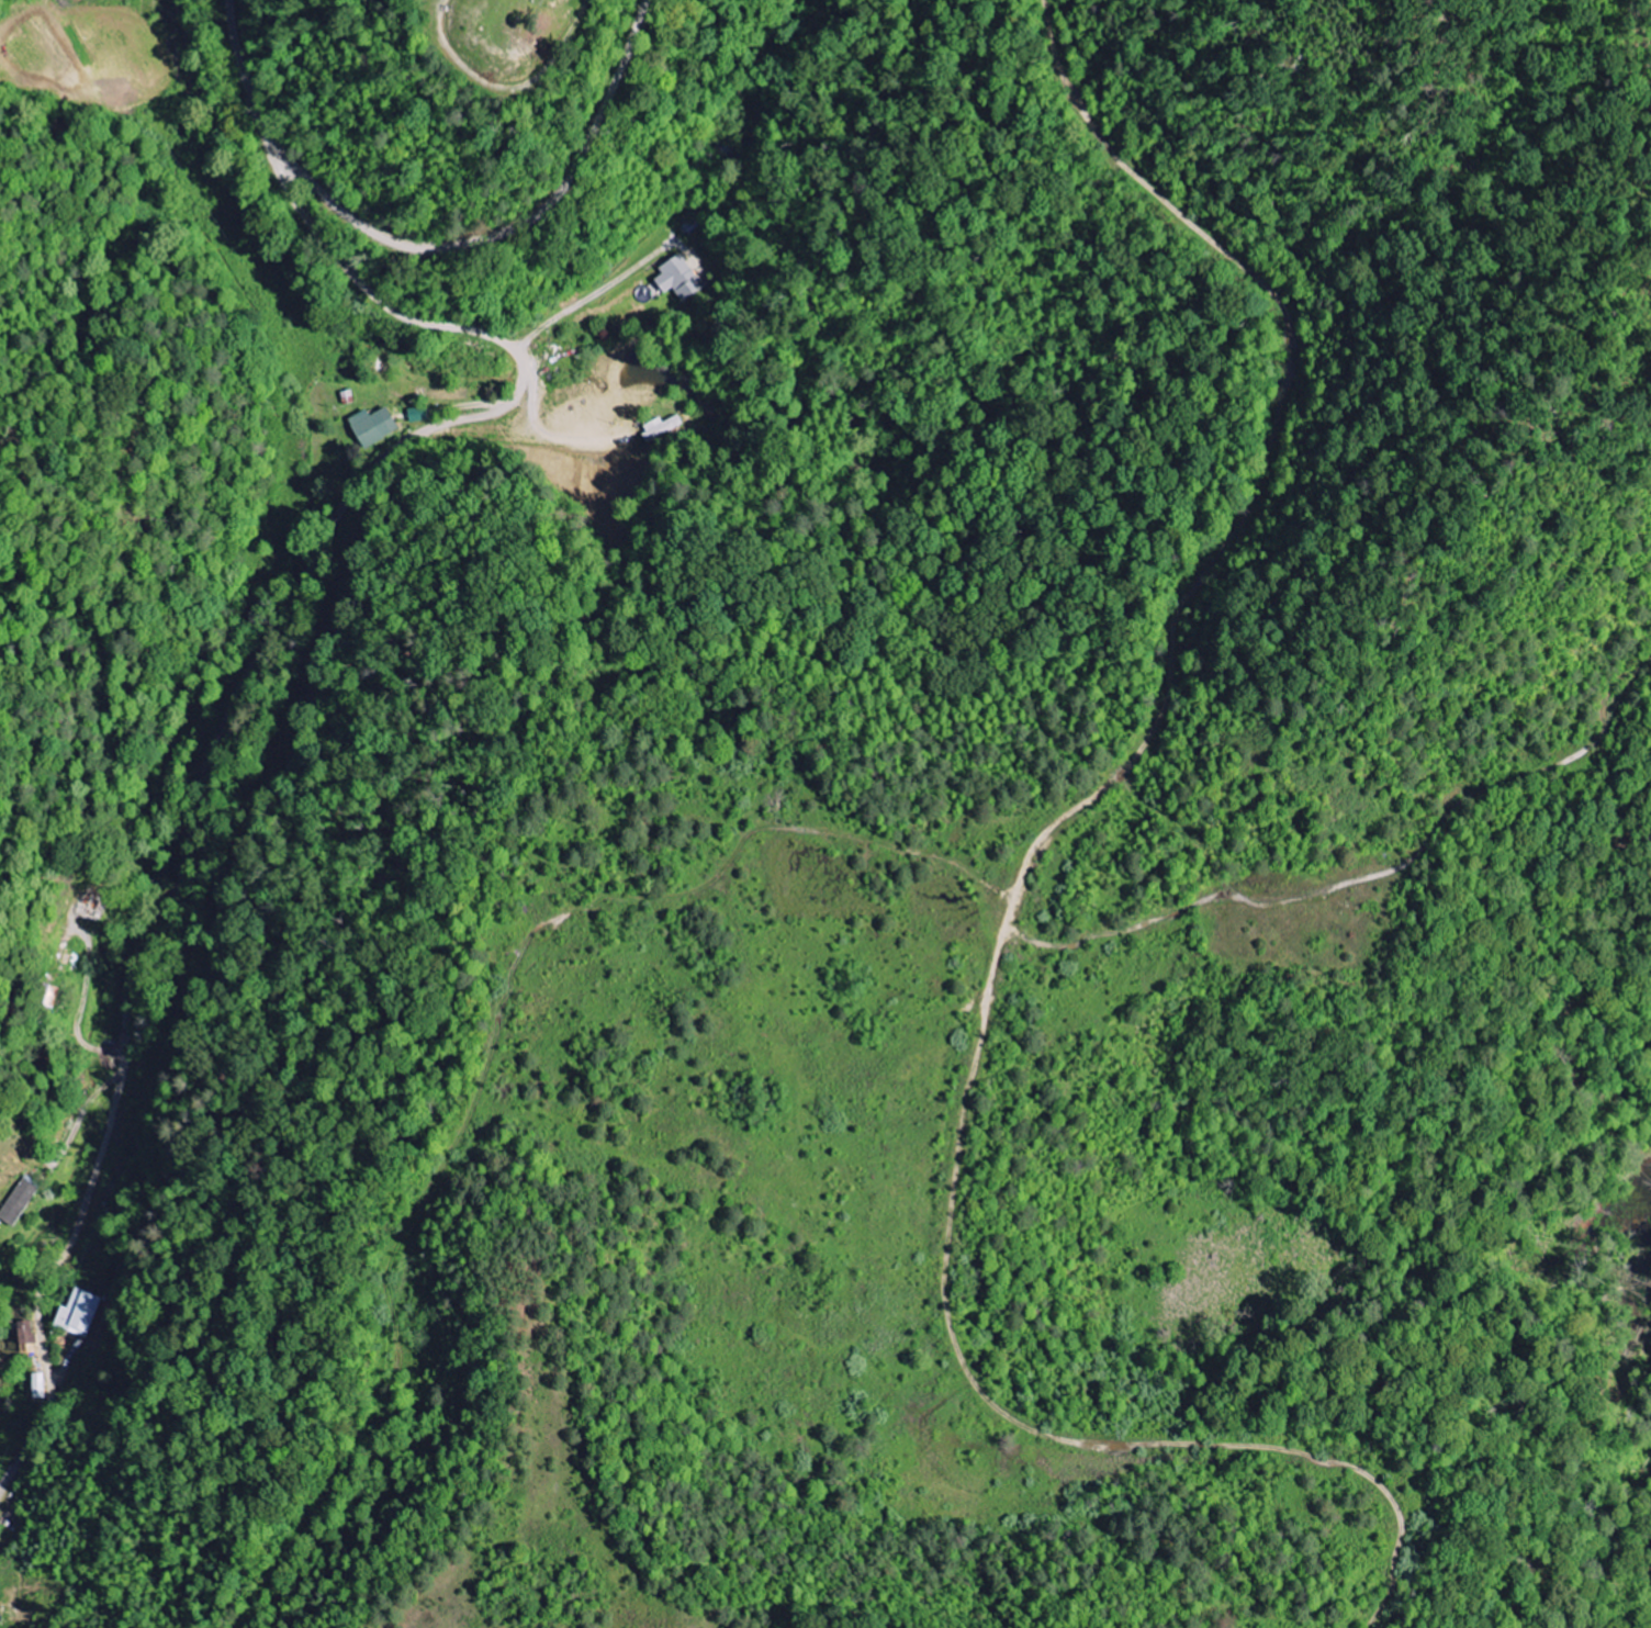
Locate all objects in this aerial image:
road: (516, 224)
building: (680, 279)
building: (418, 415)
building: (373, 427)
road: (265, 648)
building: (89, 903)
building: (19, 1201)
building: (80, 1313)
building: (26, 1333)
building: (40, 1386)

